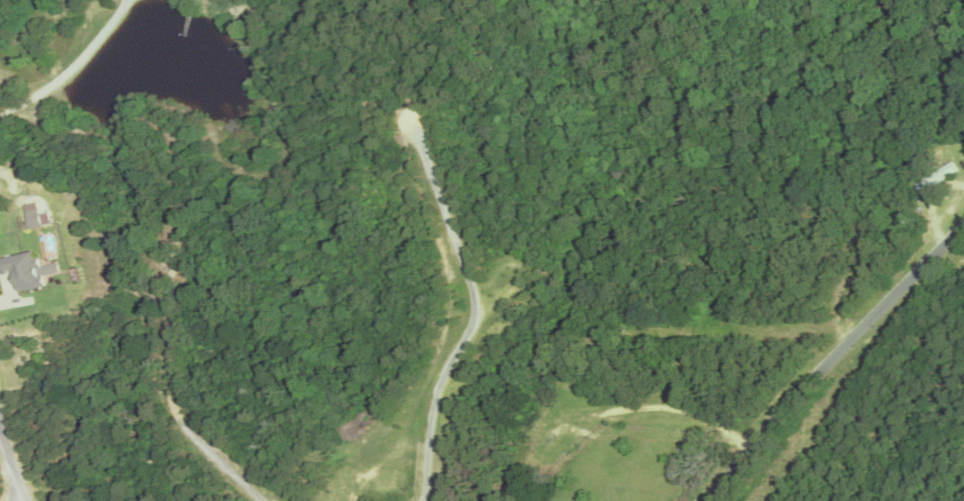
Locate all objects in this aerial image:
road: (68, 61)
building: (932, 181)
building: (31, 219)
building: (22, 273)
road: (469, 312)
road: (831, 357)
building: (570, 387)
building: (530, 445)
road: (7, 467)

